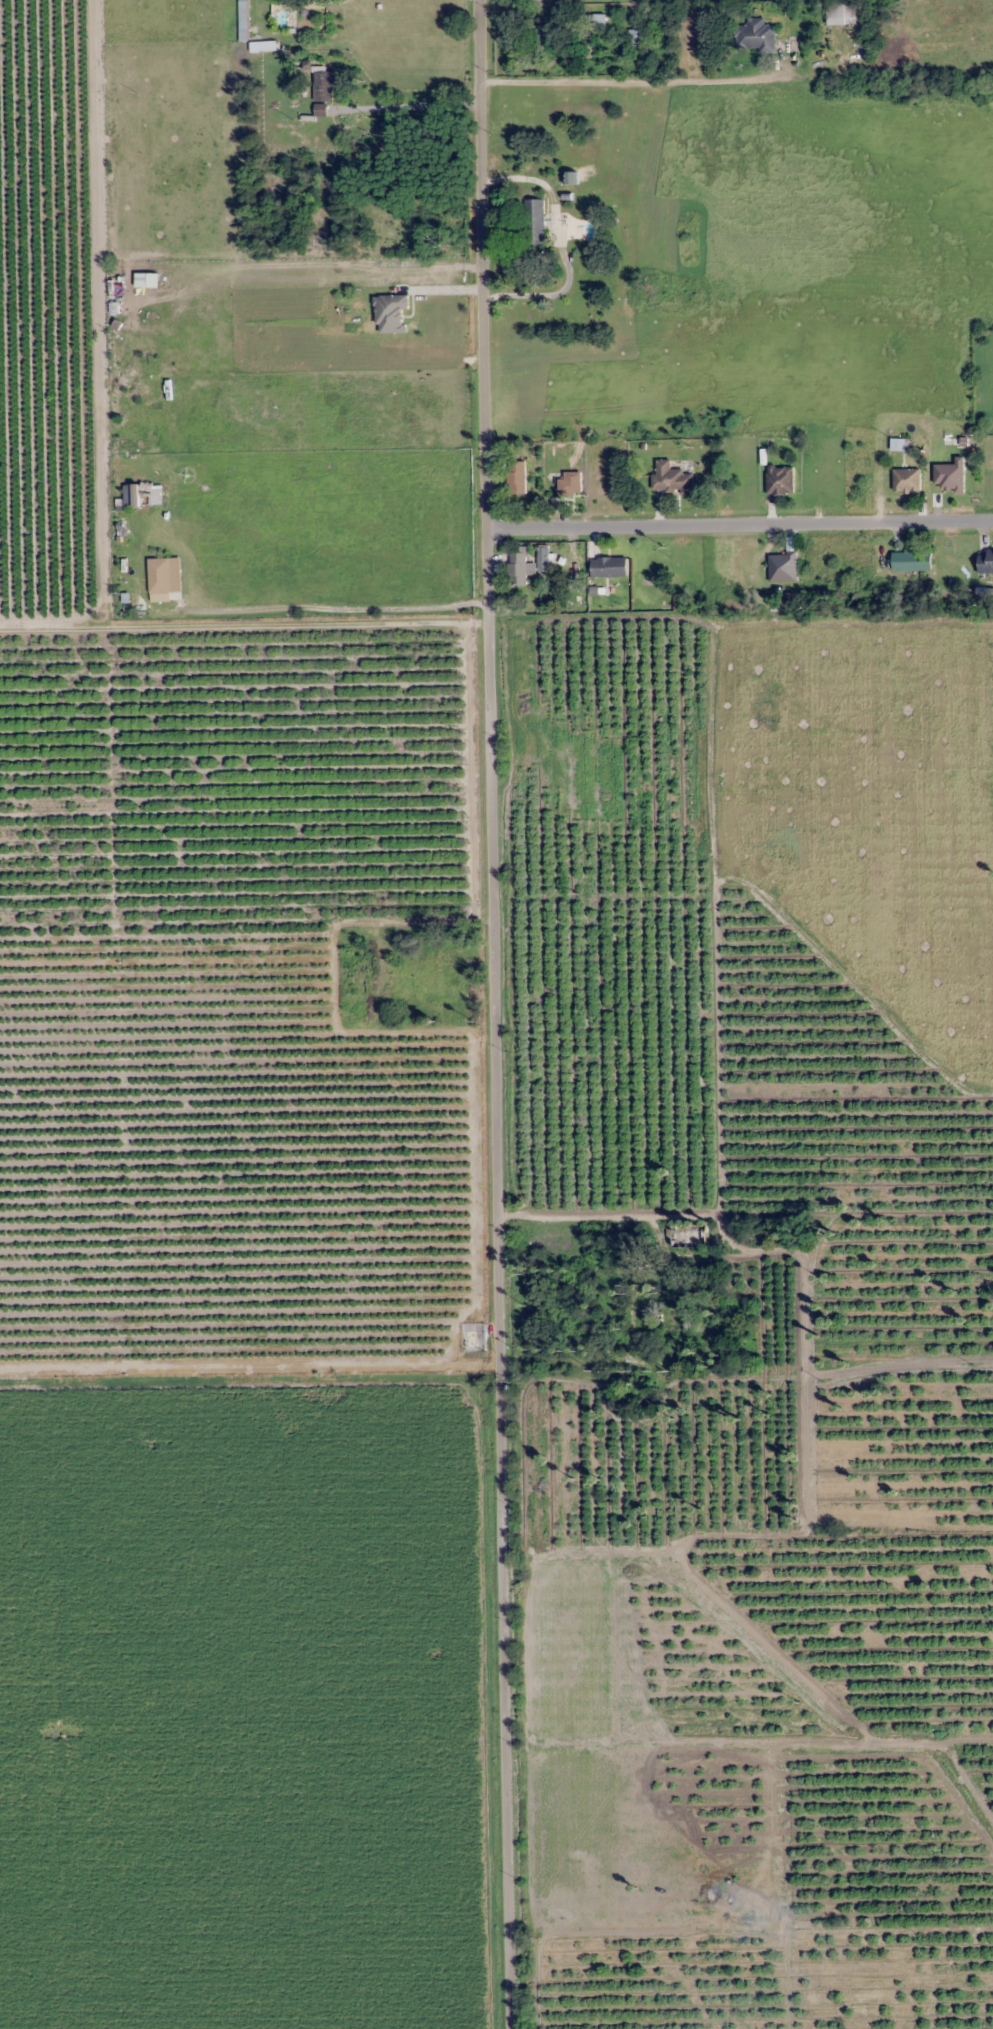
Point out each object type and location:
building: (841, 13)
building: (755, 36)
building: (636, 39)
building: (323, 92)
building: (534, 221)
road: (124, 300)
road: (483, 301)
building: (391, 313)
building: (517, 477)
building: (670, 477)
building: (780, 479)
building: (566, 488)
road: (738, 524)
building: (543, 559)
building: (911, 560)
building: (985, 560)
building: (608, 566)
building: (783, 567)
building: (519, 568)
road: (242, 600)
road: (493, 879)
building: (426, 975)
road: (747, 1149)
building: (688, 1230)
road: (502, 1260)
building: (675, 1317)
road: (505, 1696)

